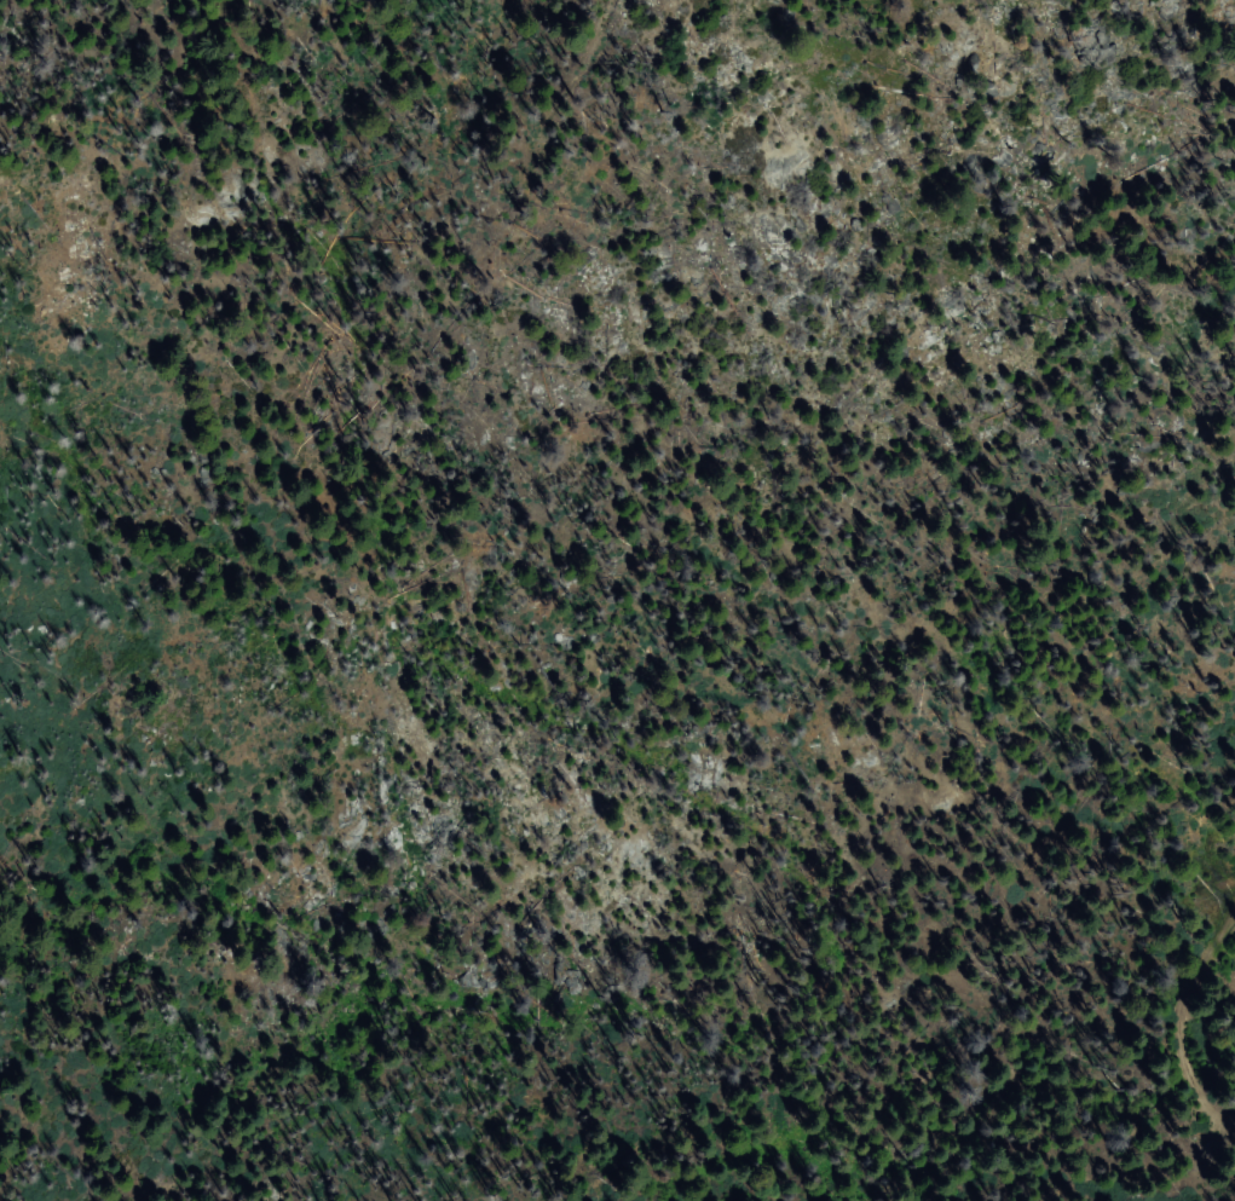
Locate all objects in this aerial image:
road: (1214, 976)
road: (17, 1196)

